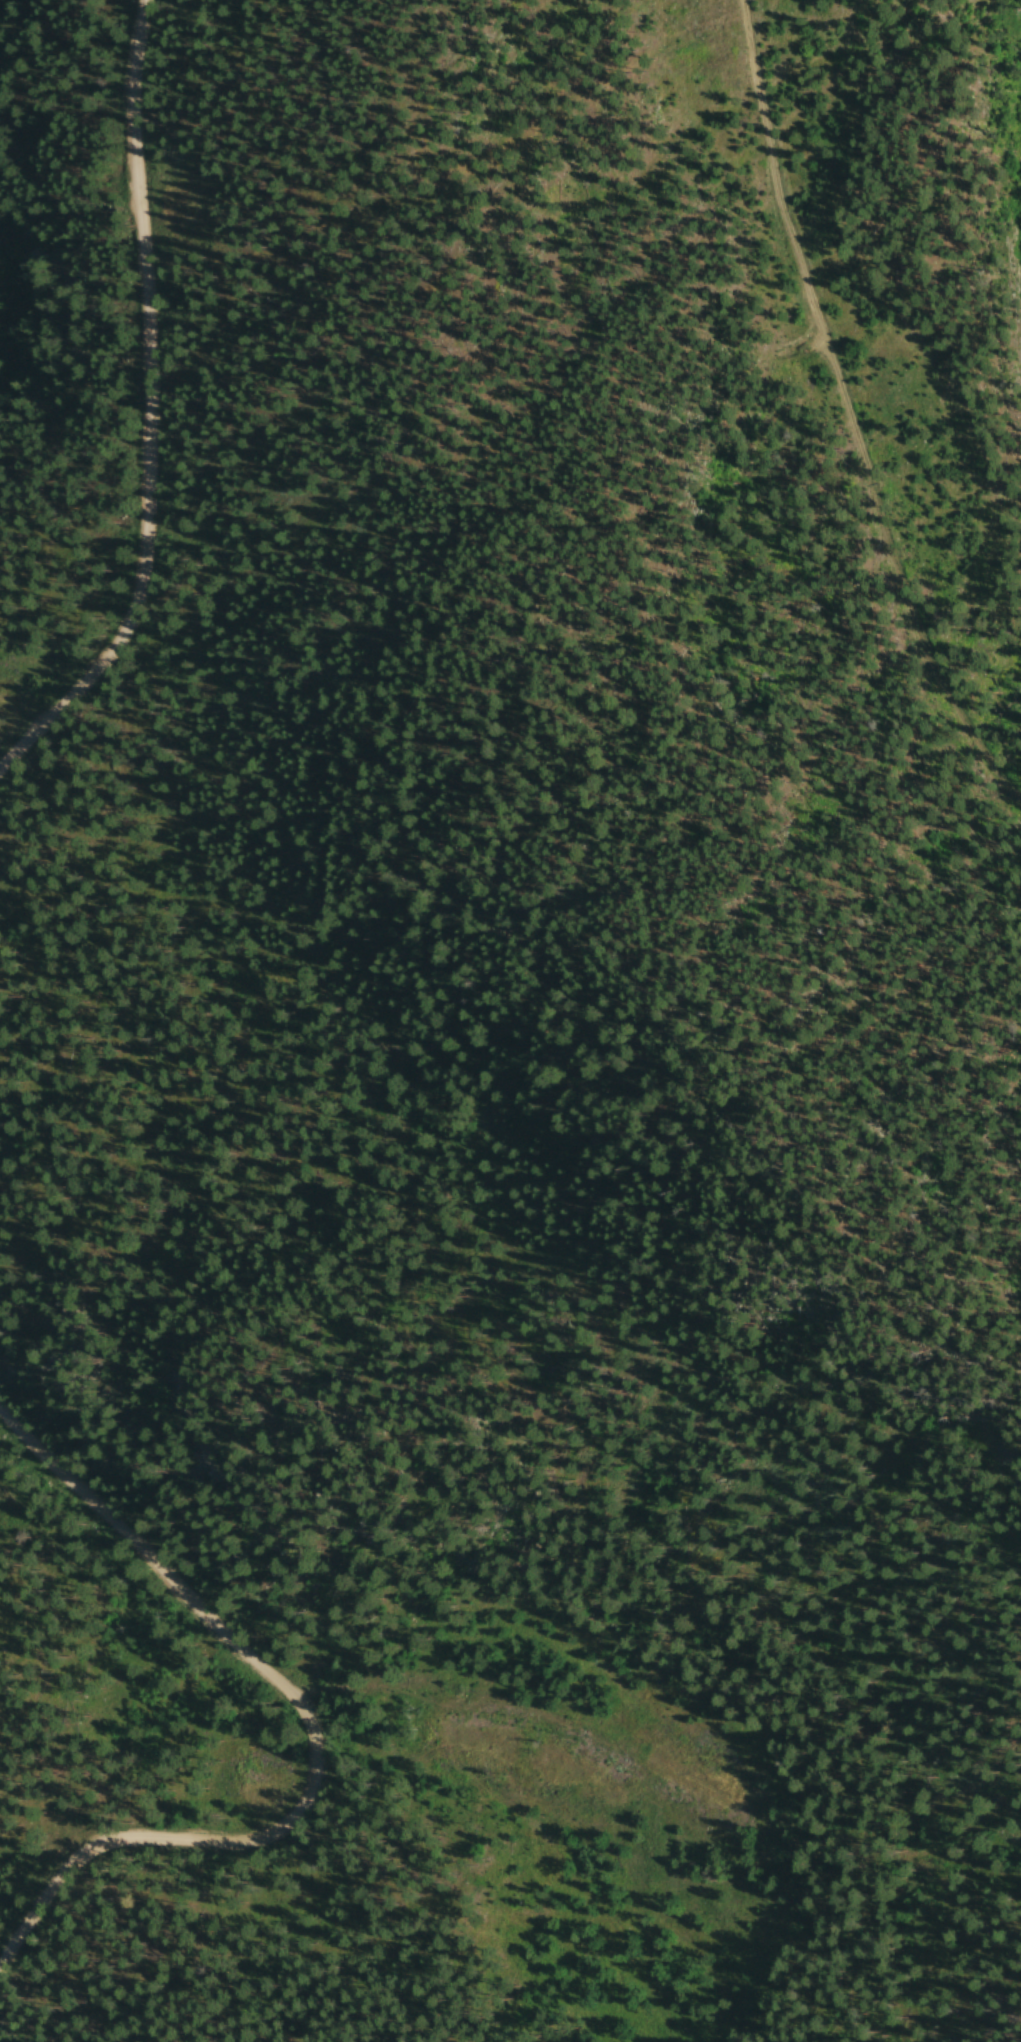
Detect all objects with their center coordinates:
road: (150, 413)
road: (849, 414)
road: (406, 1224)
road: (313, 1732)
road: (304, 2034)

